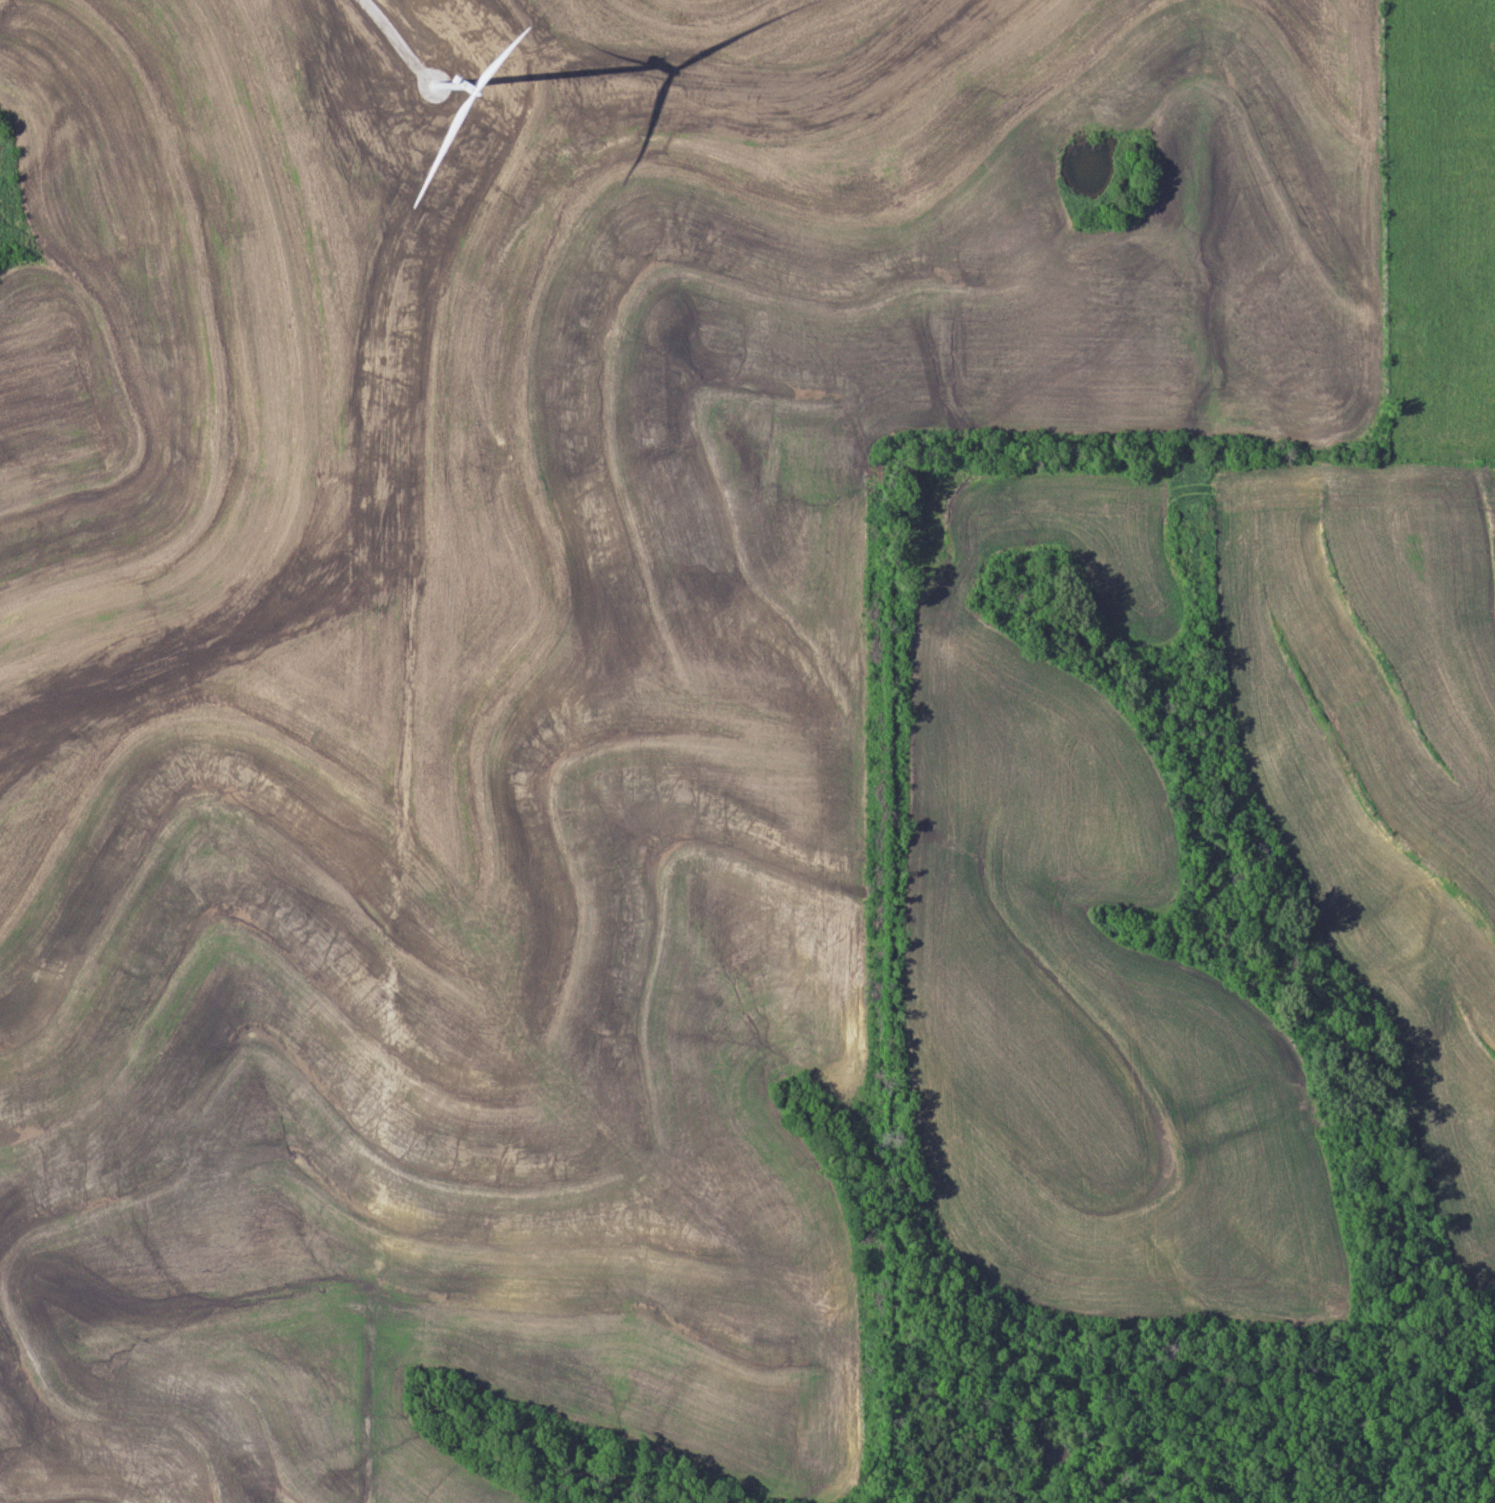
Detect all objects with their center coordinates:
wind turbine: (438, 87)

